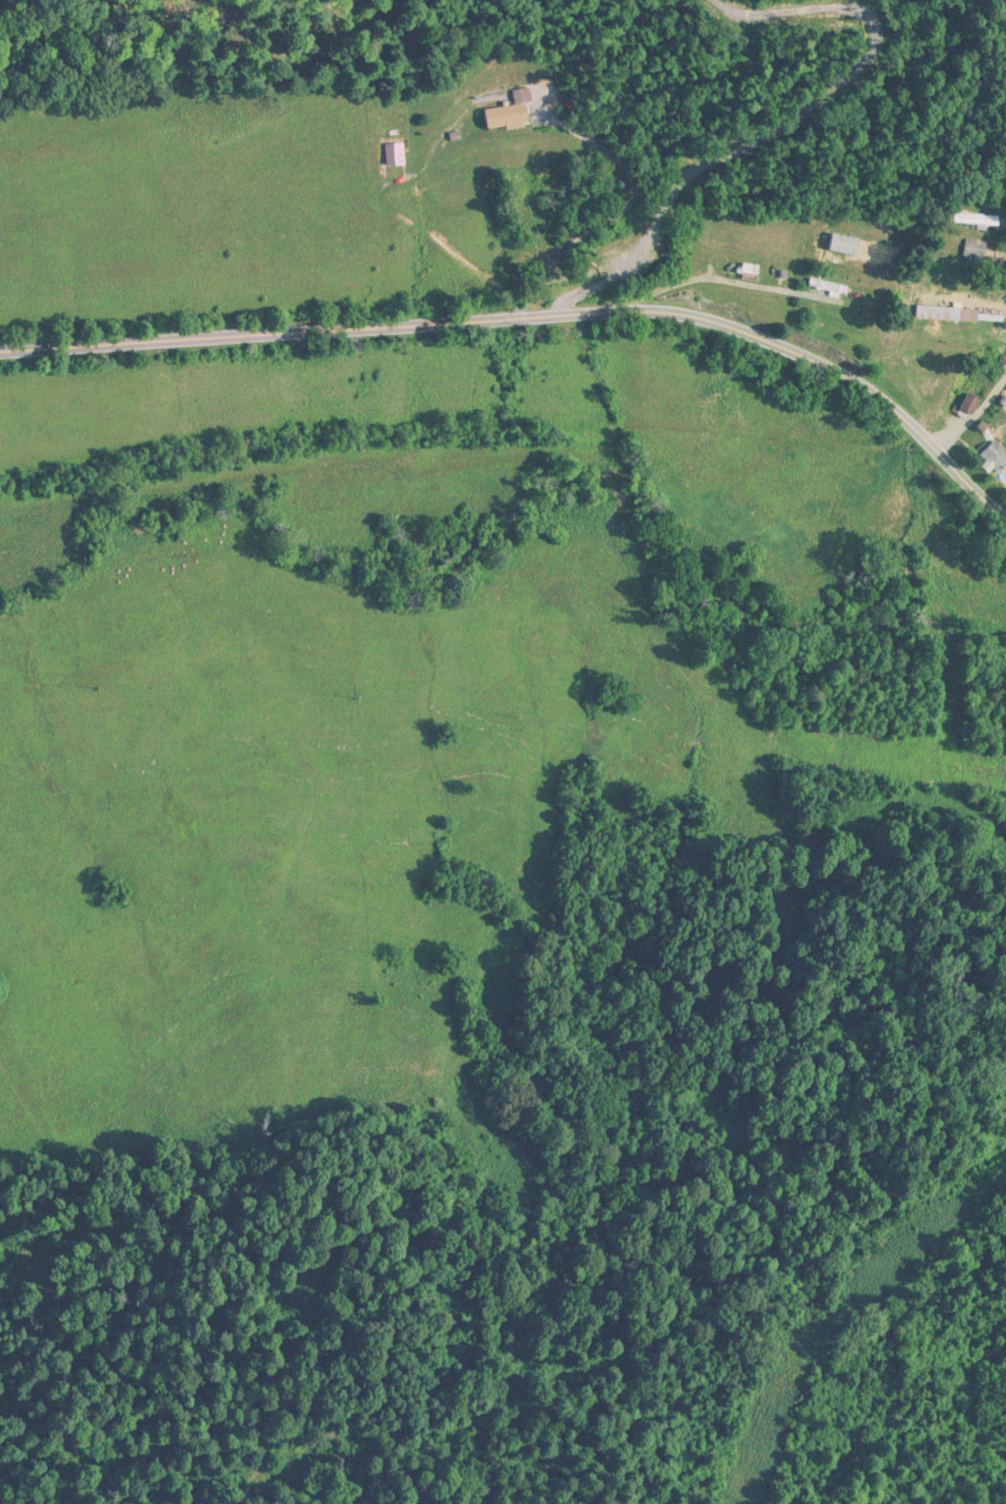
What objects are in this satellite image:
building: (1005, 34)
building: (511, 114)
road: (932, 115)
building: (979, 221)
building: (846, 245)
building: (982, 254)
building: (751, 273)
road: (925, 316)
road: (423, 360)
building: (971, 405)
building: (995, 459)
road: (922, 470)

